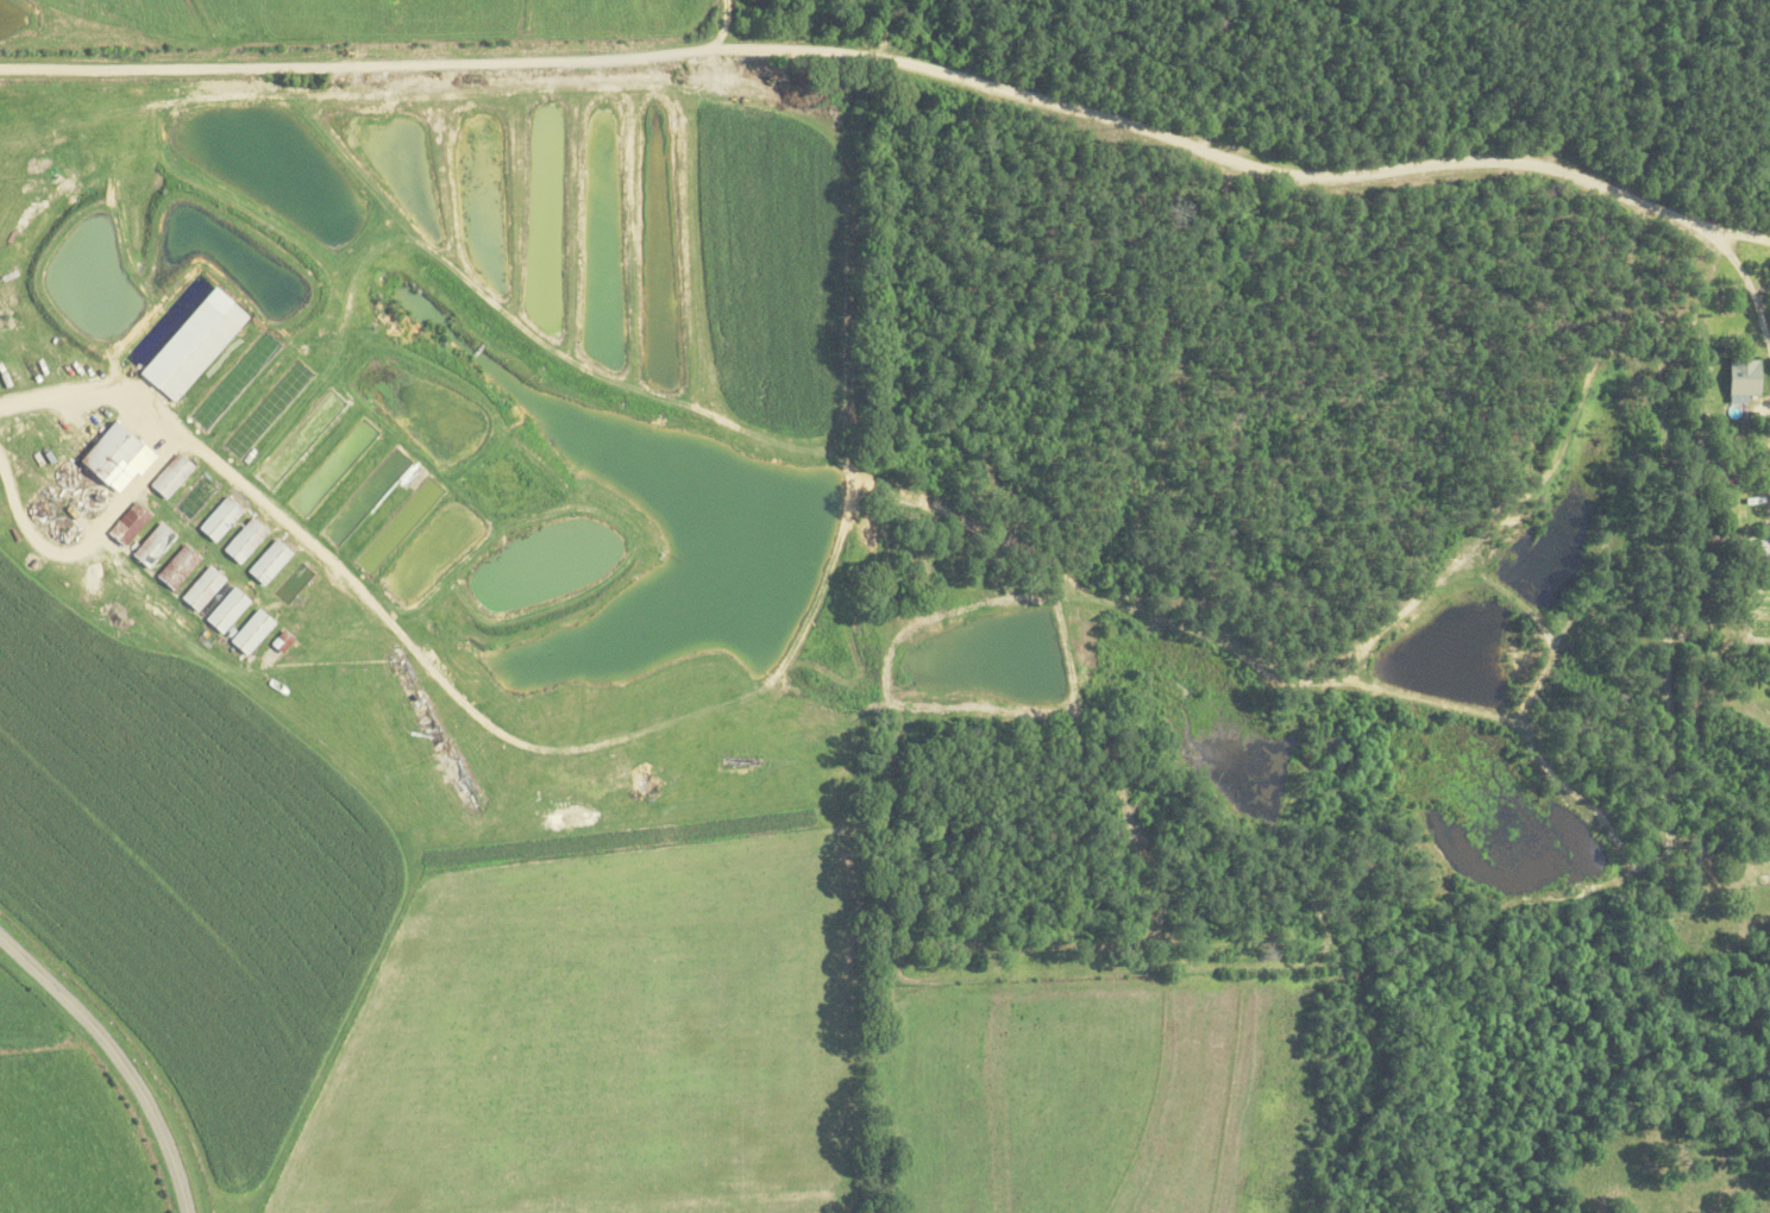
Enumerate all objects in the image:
road: (877, 30)
road: (898, 65)
road: (1745, 290)
building: (192, 344)
building: (1741, 378)
road: (1765, 402)
road: (175, 427)
building: (114, 455)
building: (170, 474)
building: (218, 517)
building: (127, 522)
road: (81, 538)
building: (243, 540)
building: (152, 543)
building: (266, 561)
building: (201, 587)
building: (225, 611)
building: (250, 630)
building: (280, 640)
road: (117, 1060)

